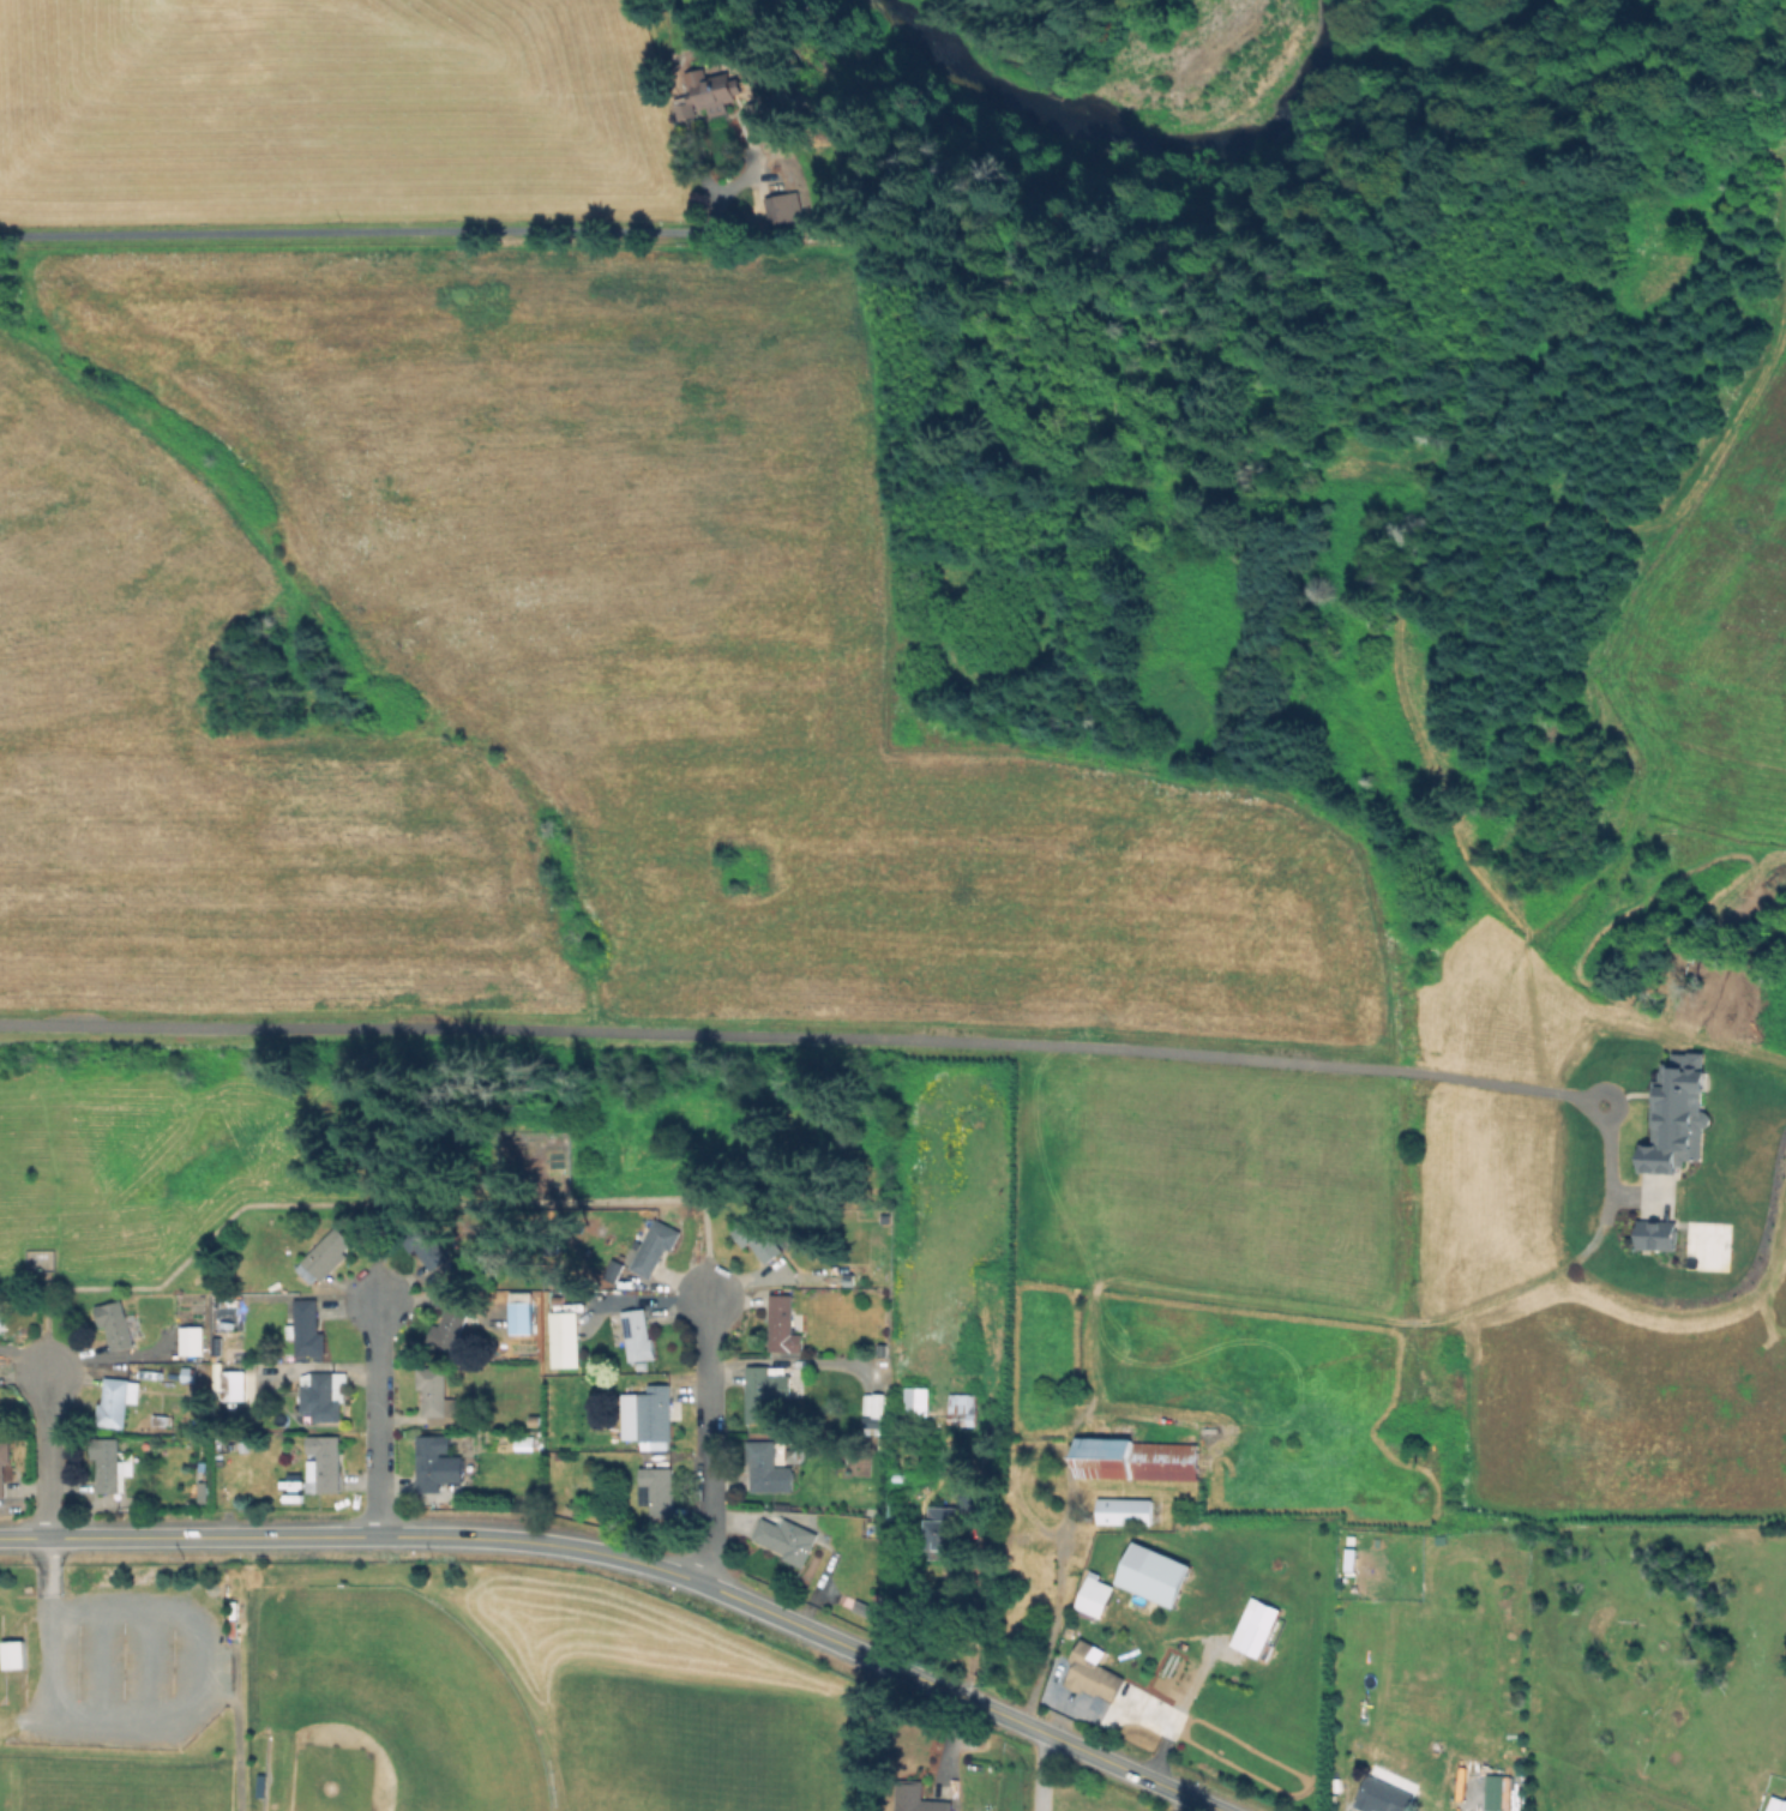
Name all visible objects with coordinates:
building: (712, 88)
crop: (331, 102)
building: (686, 107)
building: (777, 210)
road: (384, 231)
road: (822, 1042)
road: (362, 1190)
building: (758, 1239)
building: (655, 1249)
building: (325, 1256)
building: (617, 1268)
building: (1, 1312)
building: (524, 1312)
building: (119, 1325)
building: (782, 1325)
building: (307, 1329)
building: (449, 1329)
building: (637, 1335)
building: (193, 1341)
building: (237, 1388)
building: (765, 1391)
building: (324, 1396)
building: (435, 1396)
building: (918, 1400)
building: (874, 1402)
building: (1028, 1402)
building: (113, 1404)
building: (963, 1412)
building: (655, 1416)
road: (375, 1421)
building: (535, 1421)
building: (874, 1426)
building: (525, 1444)
road: (706, 1445)
road: (44, 1452)
building: (1137, 1460)
building: (324, 1463)
building: (438, 1463)
building: (4, 1466)
building: (112, 1466)
building: (769, 1469)
building: (204, 1492)
building: (656, 1492)
building: (969, 1492)
building: (1125, 1511)
building: (944, 1533)
building: (787, 1539)
road: (636, 1559)
building: (1032, 1560)
building: (1094, 1598)
building: (861, 1608)
road: (1051, 1630)
building: (1253, 1636)
building: (16, 1655)
building: (1094, 1674)
building: (1263, 1686)
park: (389, 1702)
road: (145, 1717)
road: (1042, 1770)
park: (118, 1775)
building: (263, 1786)
building: (1383, 1797)
building: (918, 1798)
building: (1776, 1804)

